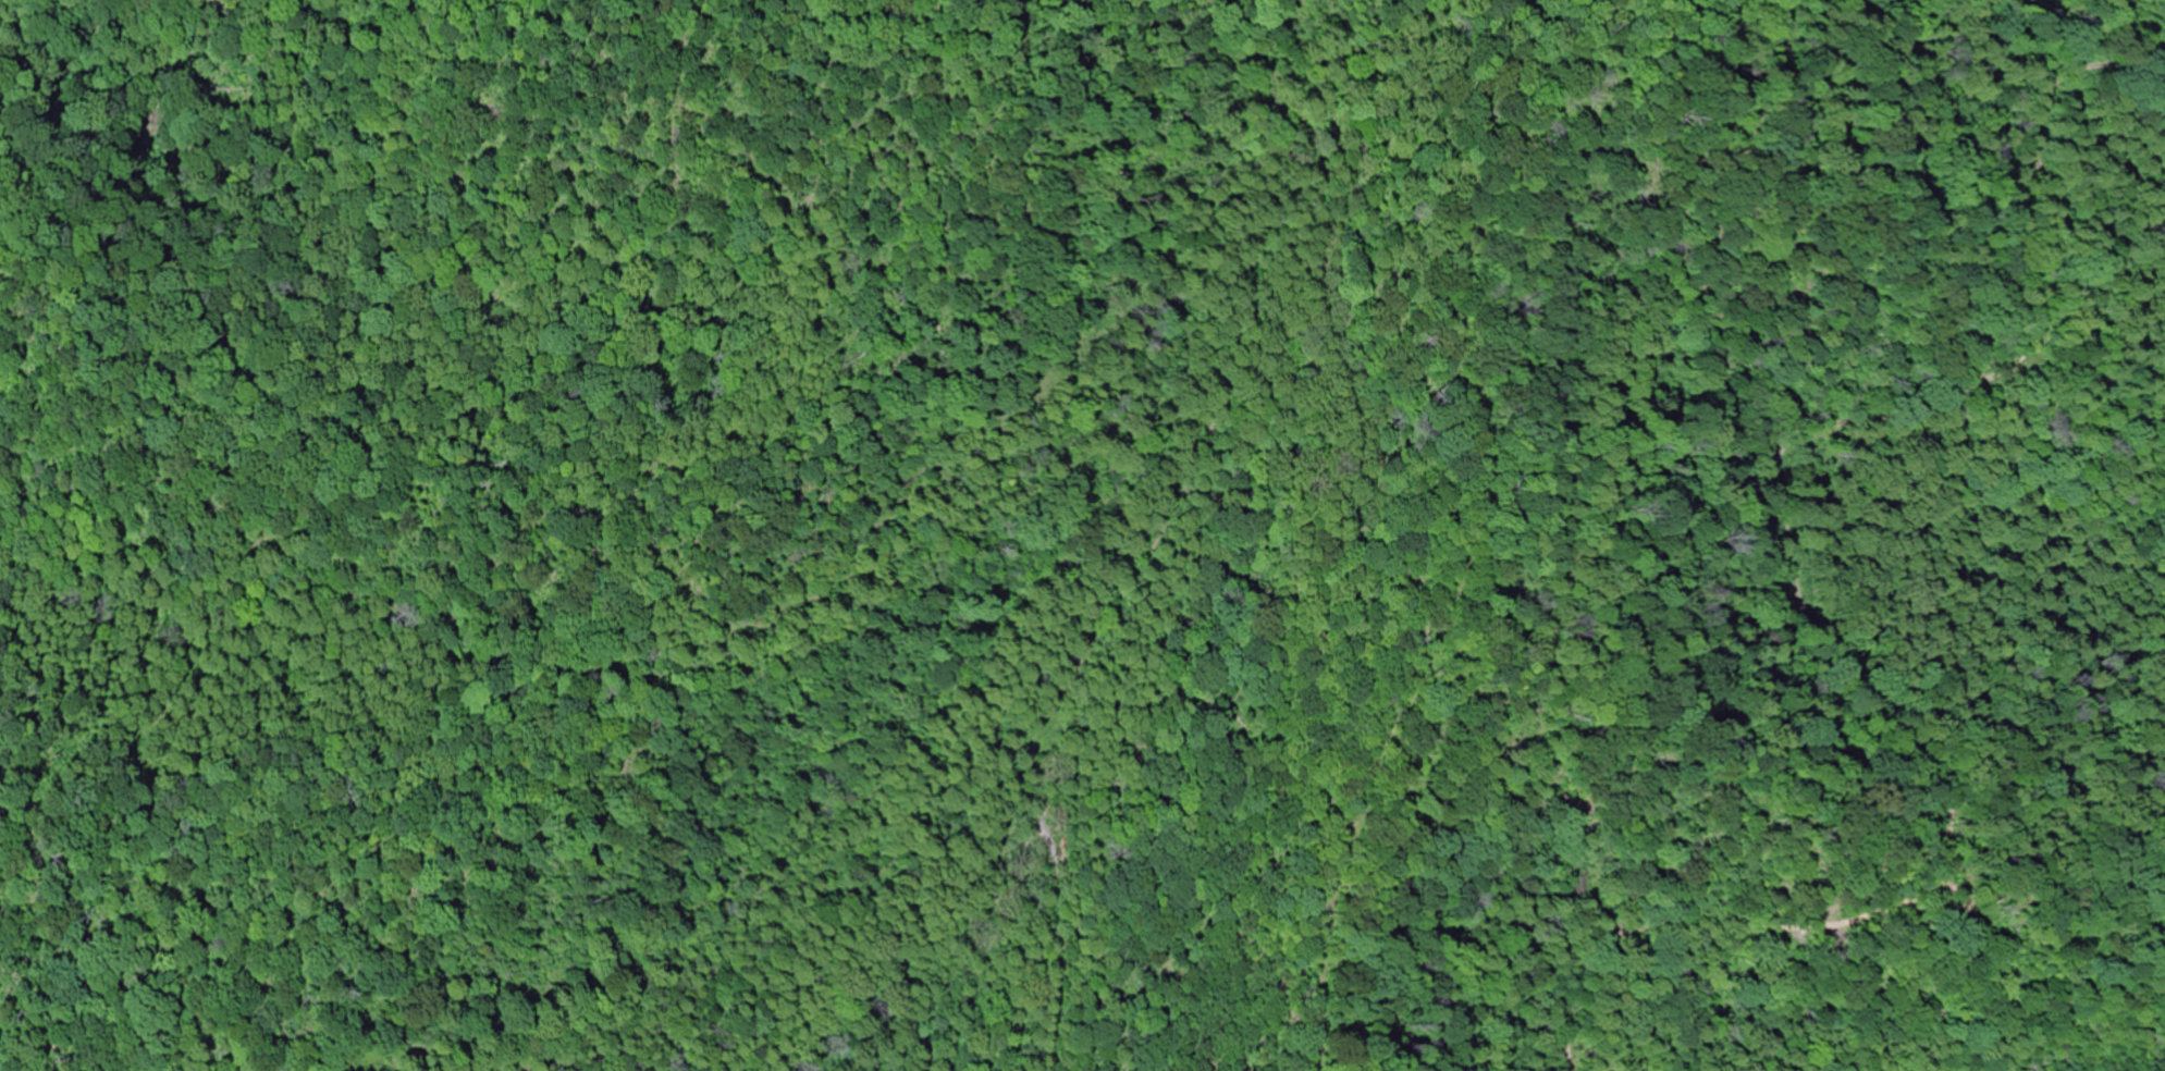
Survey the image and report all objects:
road: (1798, 616)

